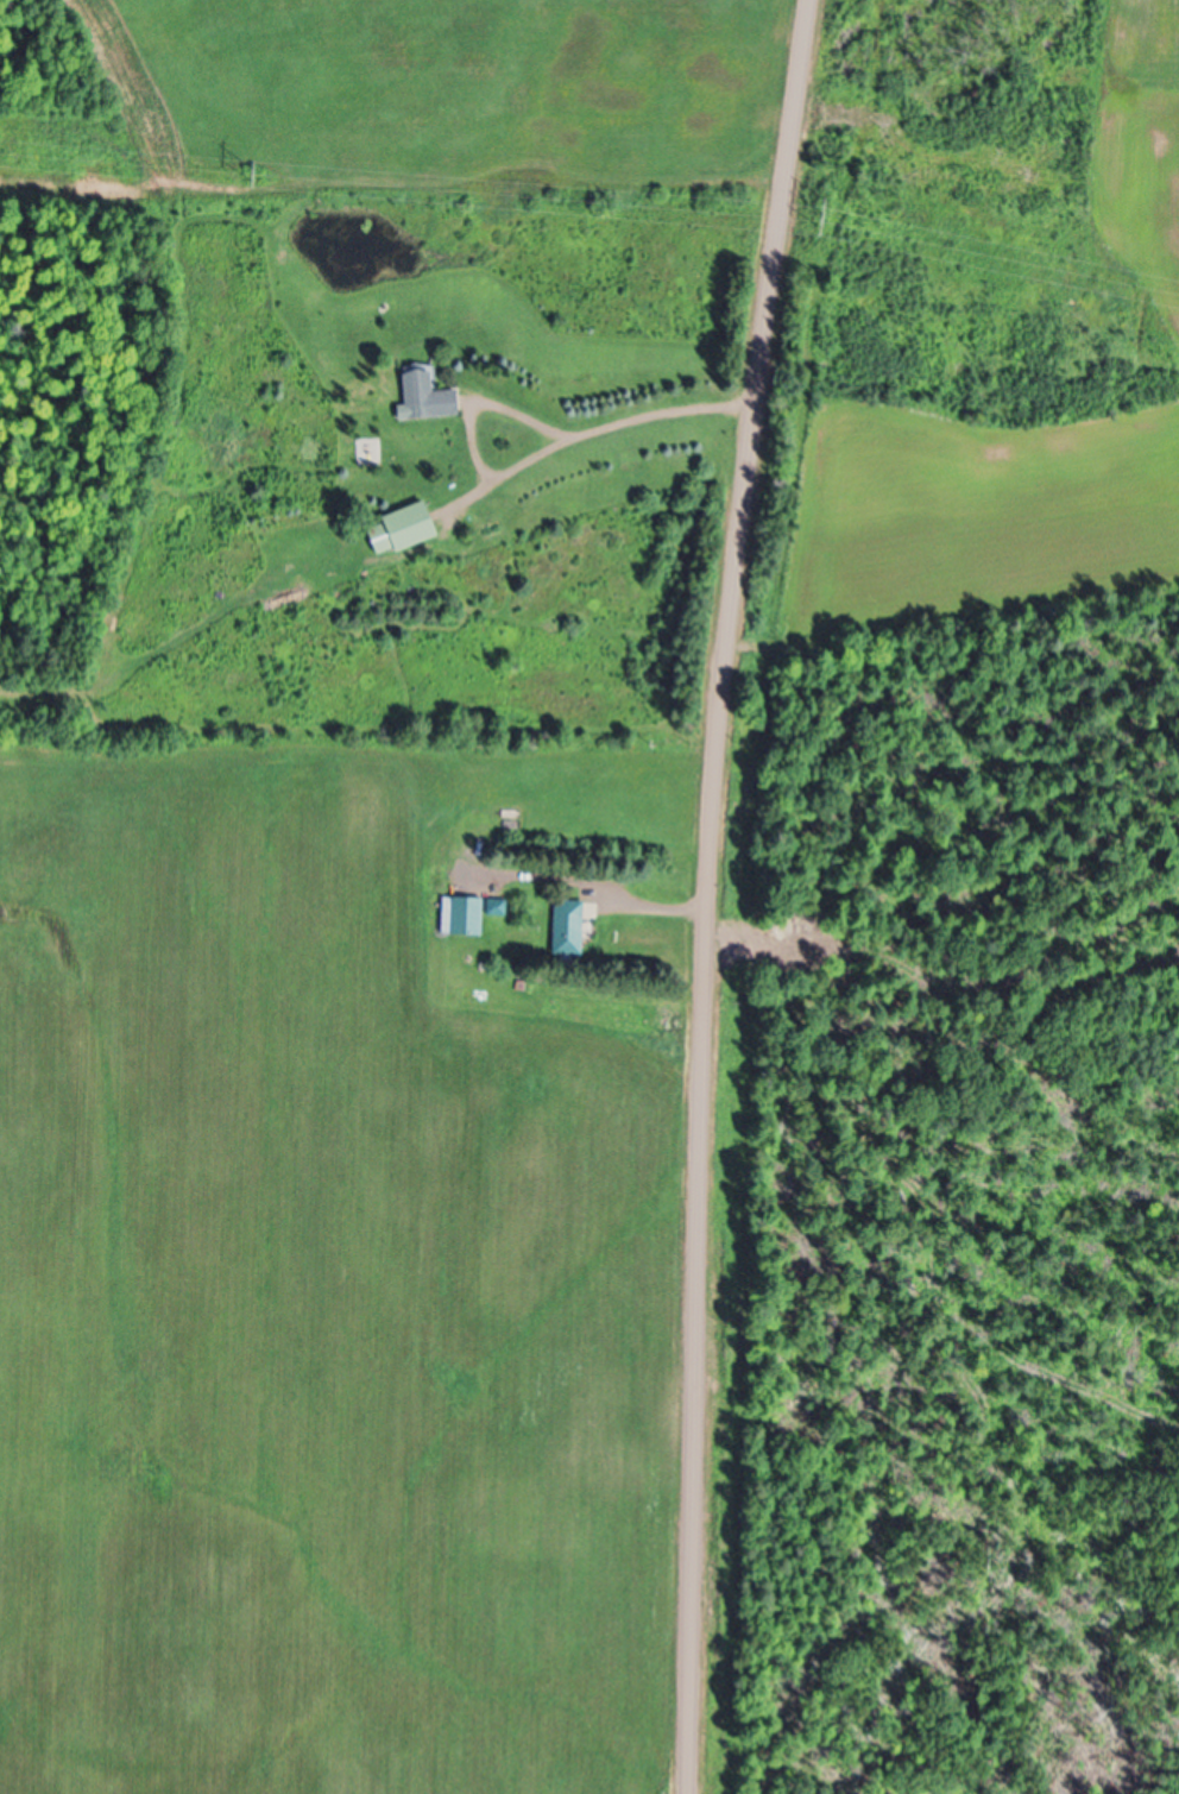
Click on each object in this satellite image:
power tower: (257, 177)
power tower: (821, 224)
building: (423, 398)
road: (486, 404)
road: (589, 436)
building: (401, 529)
road: (585, 885)
road: (708, 893)
building: (494, 908)
building: (462, 918)
building: (565, 931)

